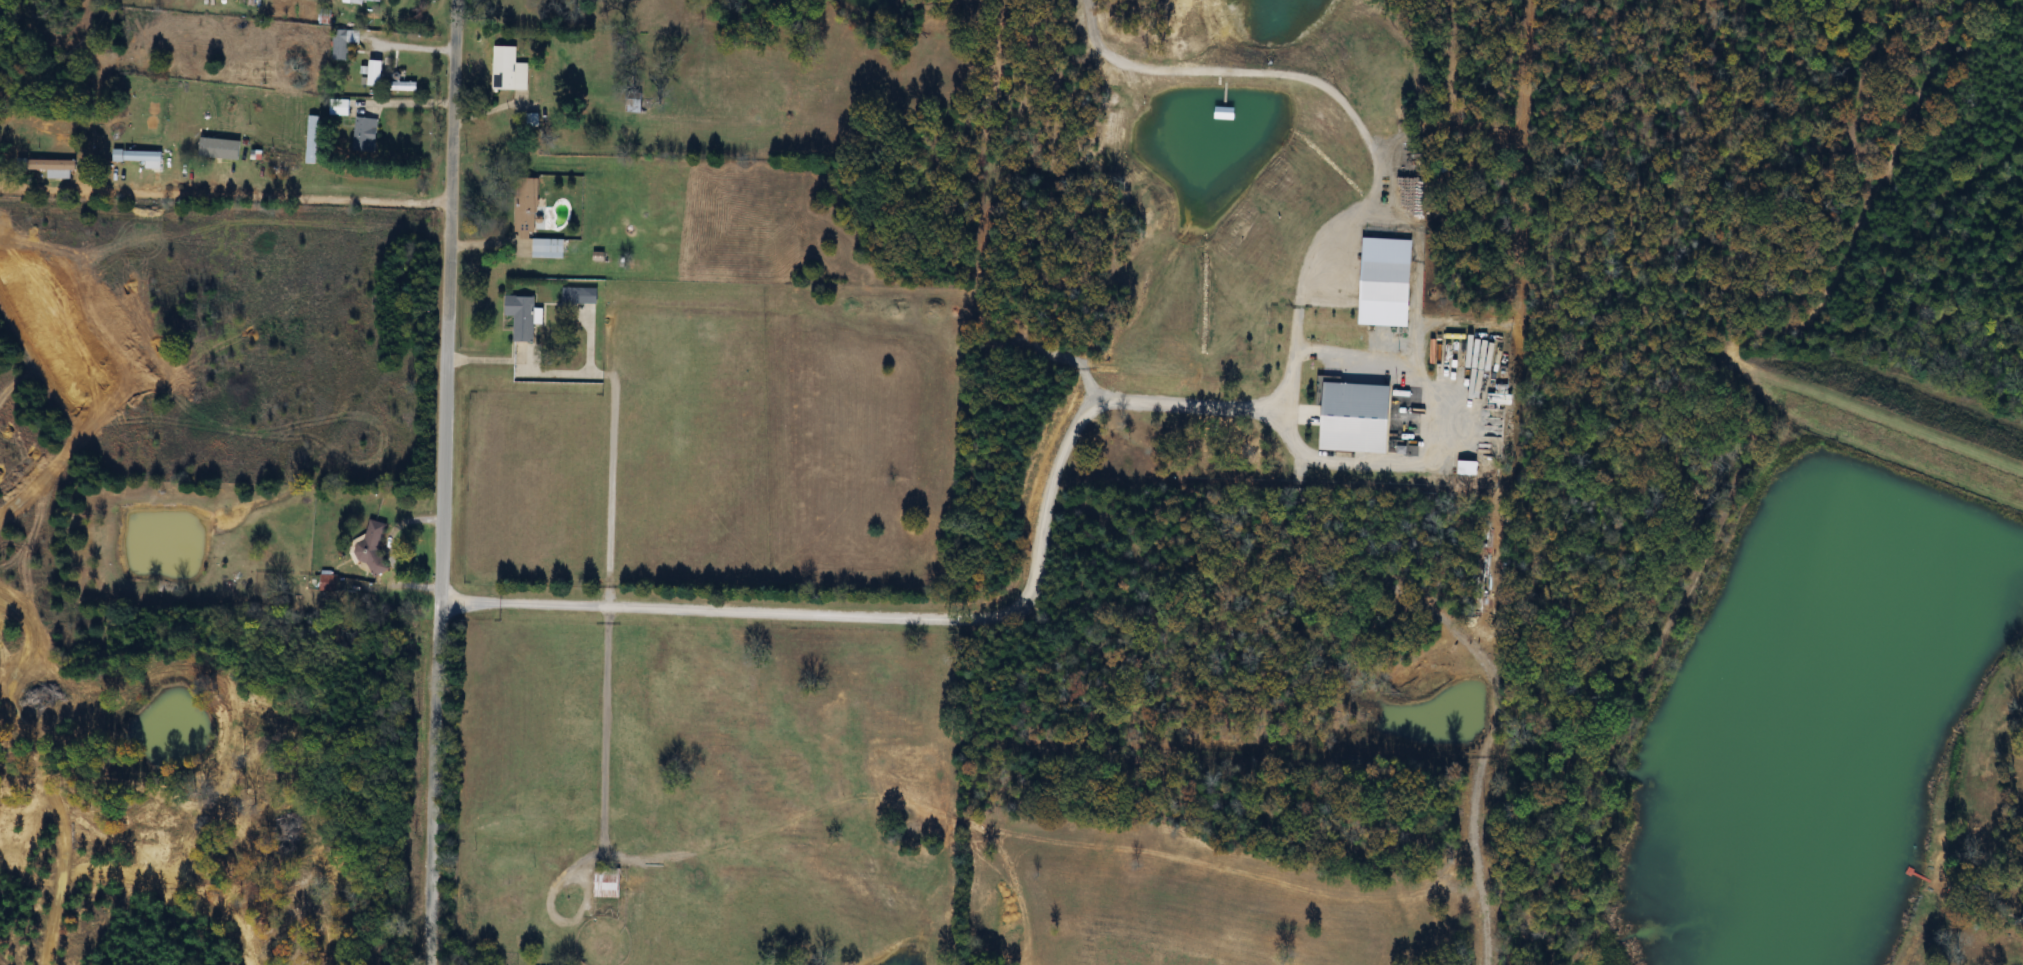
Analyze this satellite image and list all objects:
building: (368, 1)
building: (344, 43)
road: (411, 48)
building: (510, 69)
building: (378, 72)
building: (405, 86)
building: (342, 107)
building: (366, 135)
building: (0, 152)
building: (219, 152)
building: (141, 158)
building: (287, 160)
building: (56, 168)
road: (234, 196)
building: (527, 209)
building: (550, 249)
building: (578, 296)
building: (523, 316)
building: (1364, 354)
building: (1410, 395)
road: (612, 405)
road: (445, 482)
road: (944, 613)
building: (939, 803)
building: (608, 883)

